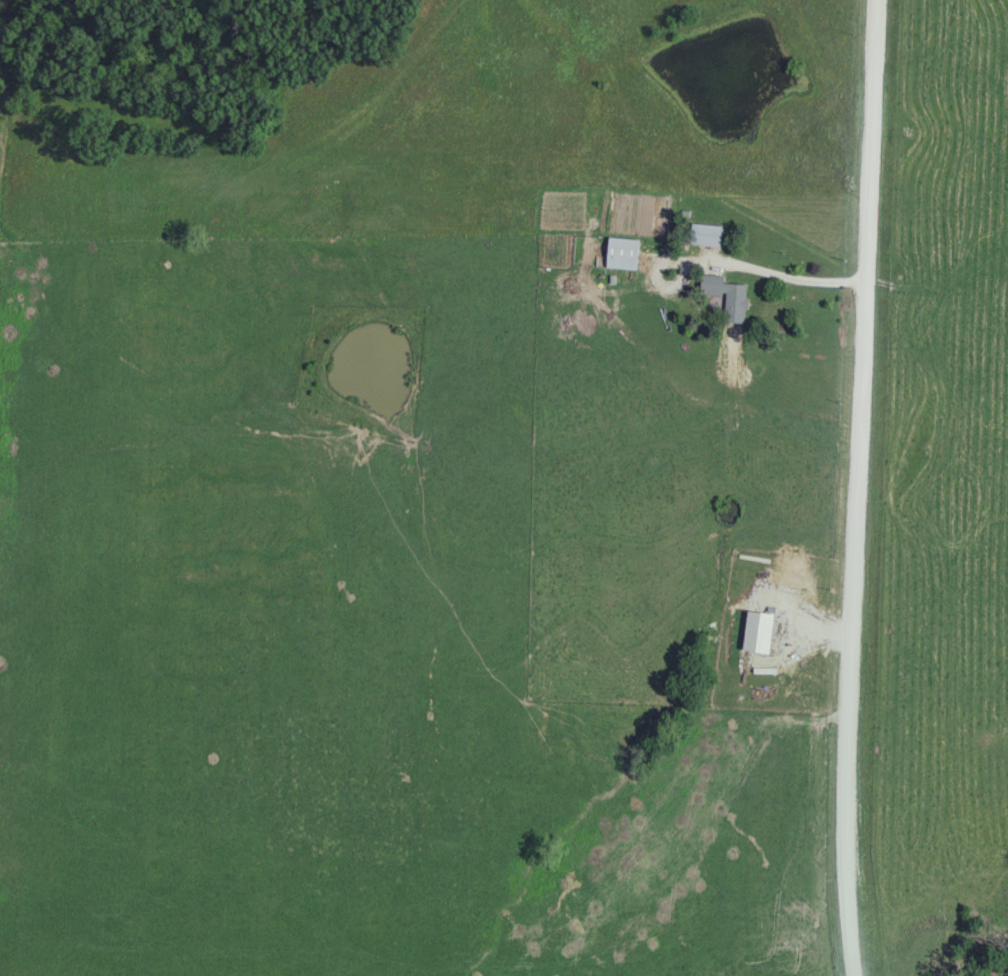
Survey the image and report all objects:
building: (706, 235)
building: (623, 254)
road: (795, 278)
building: (728, 297)
road: (863, 488)

